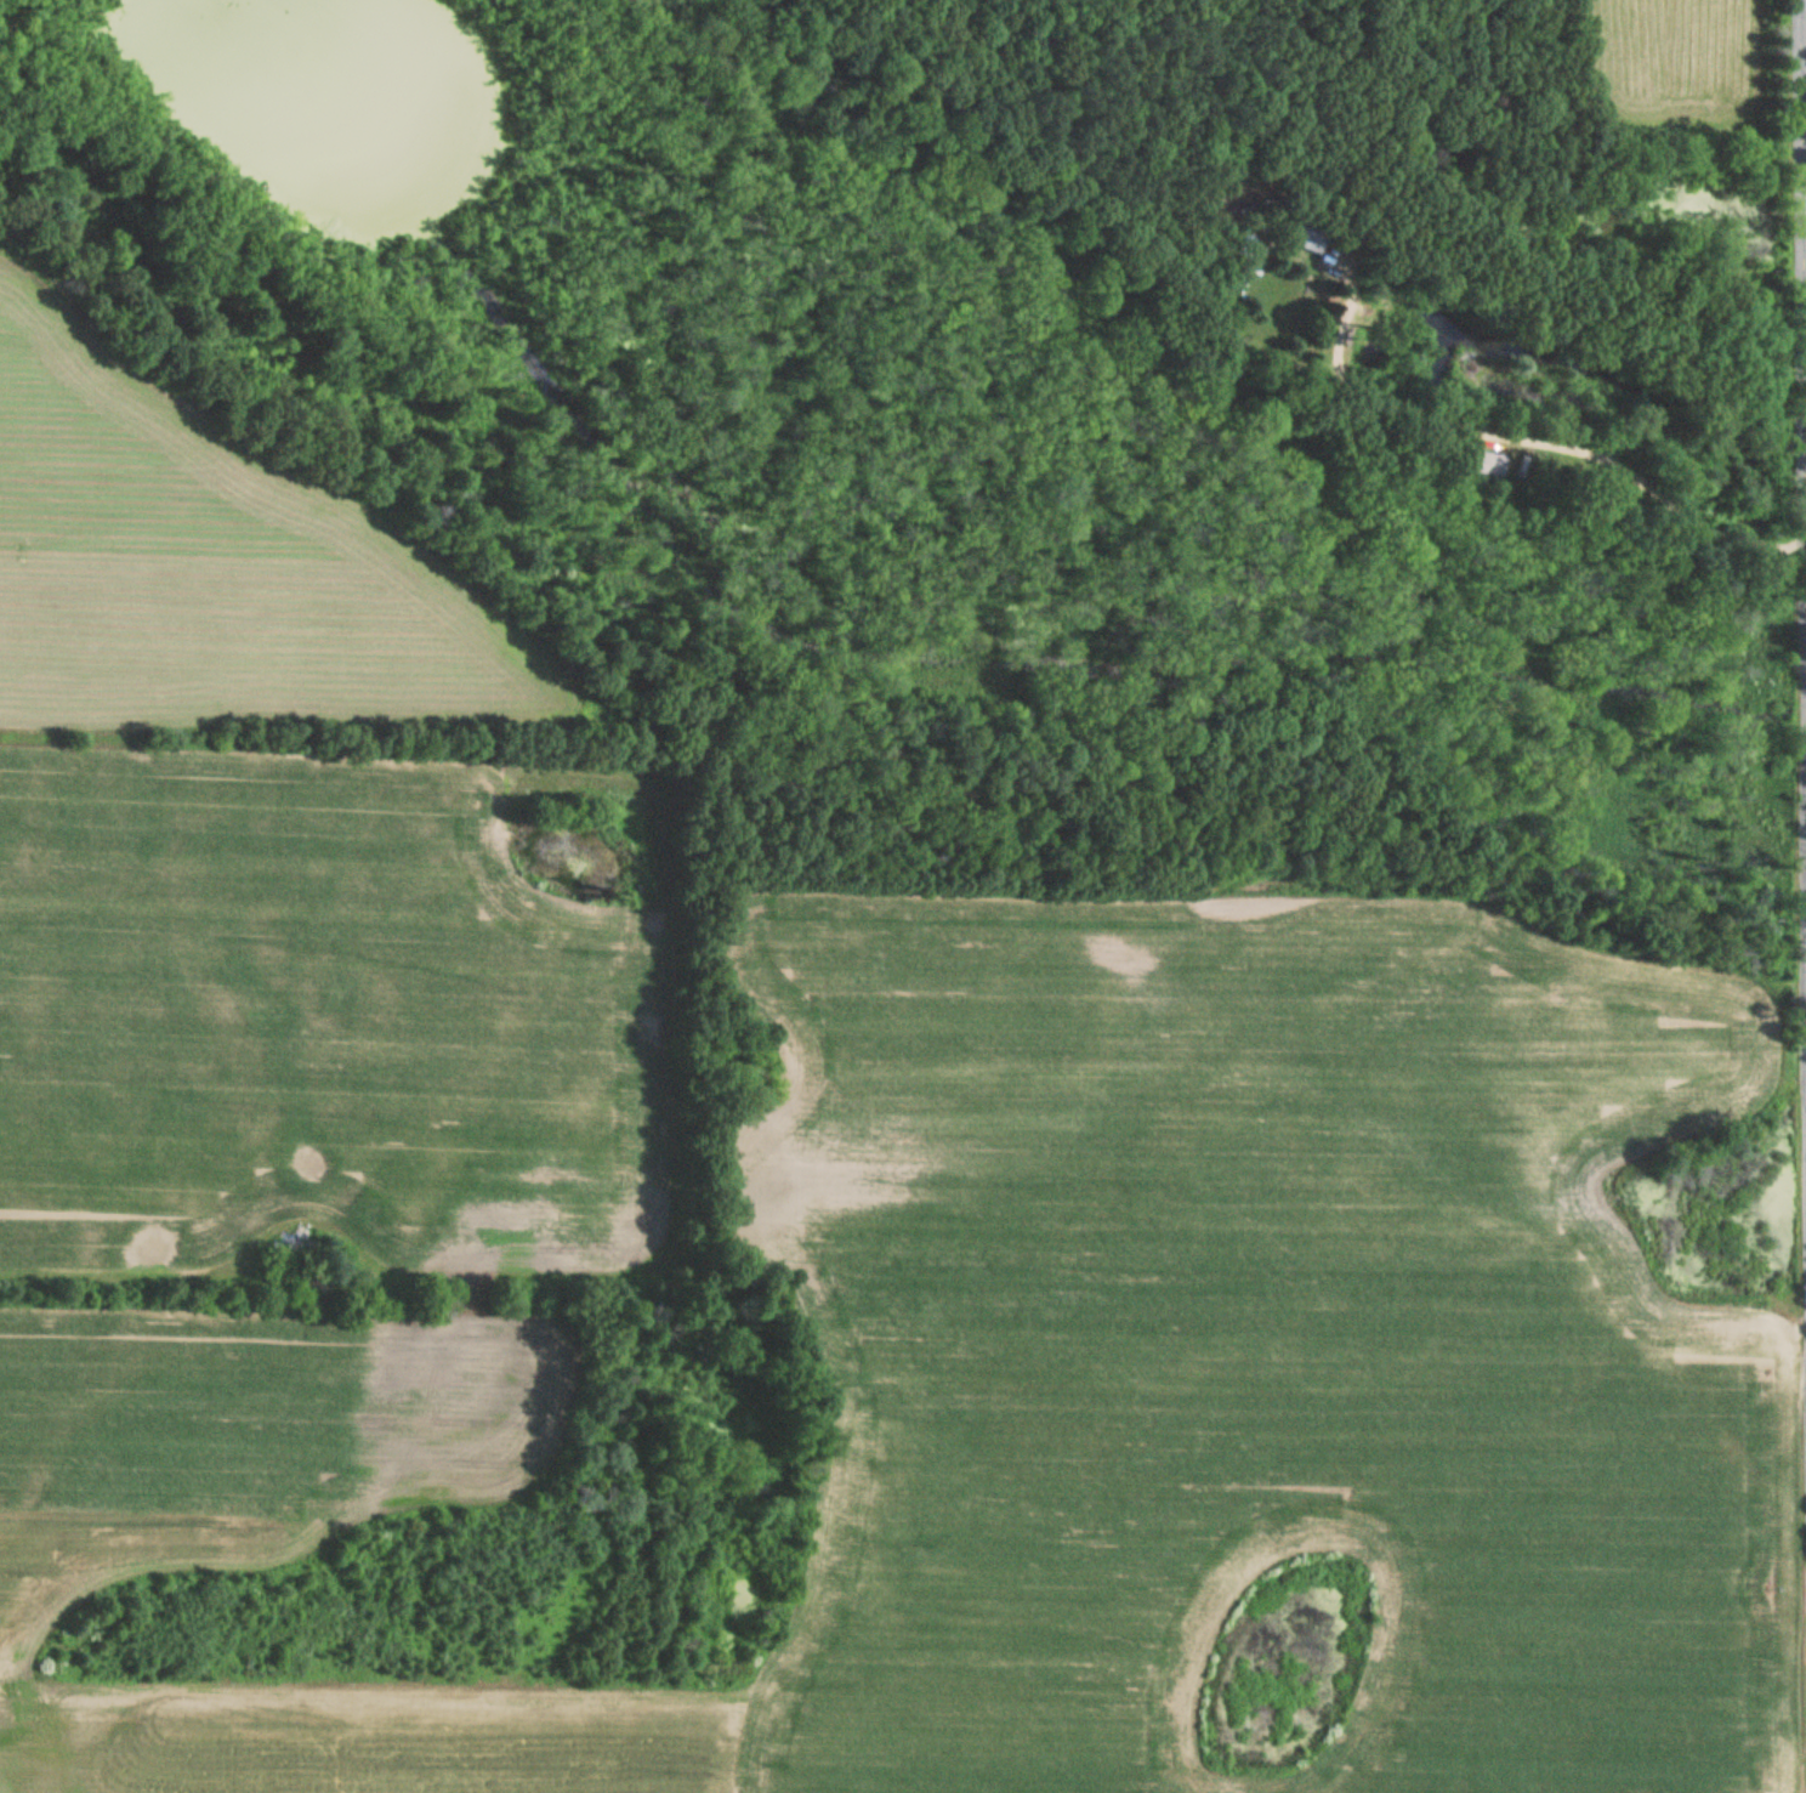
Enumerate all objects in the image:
building: (1310, 237)
road: (1804, 391)
road: (1518, 441)

